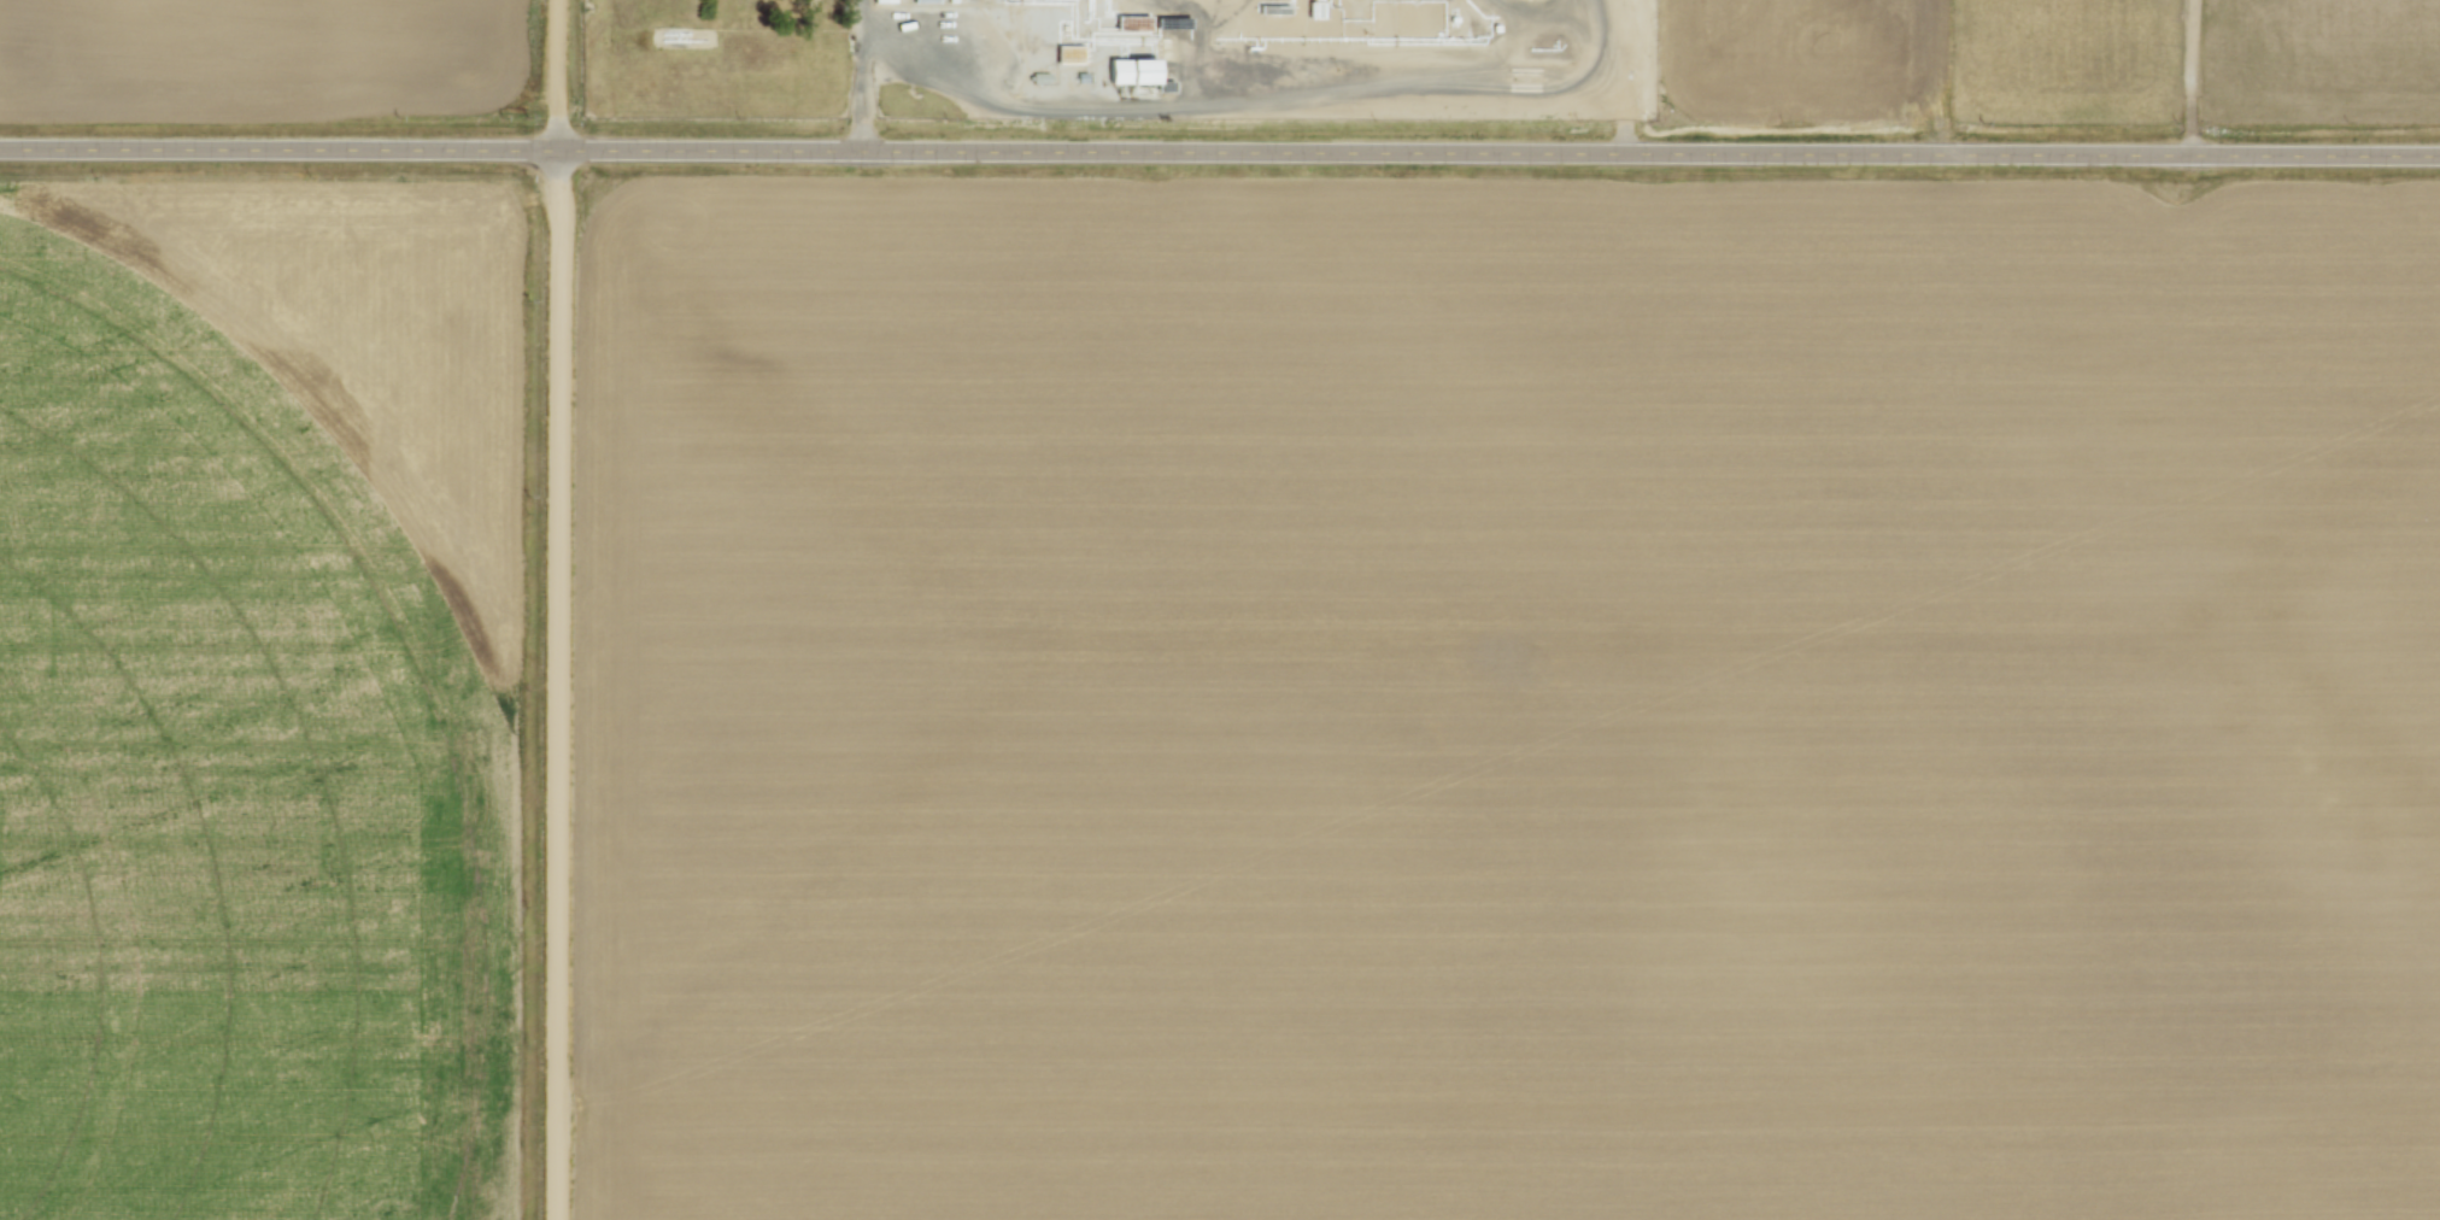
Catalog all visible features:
building: (929, 1)
building: (885, 2)
road: (862, 37)
crop: (2369, 57)
crop: (1917, 58)
crop: (257, 60)
building: (1133, 70)
road: (2192, 77)
road: (1253, 99)
road: (863, 112)
road: (1220, 151)
road: (558, 609)
crop: (1508, 697)
crop: (263, 700)

